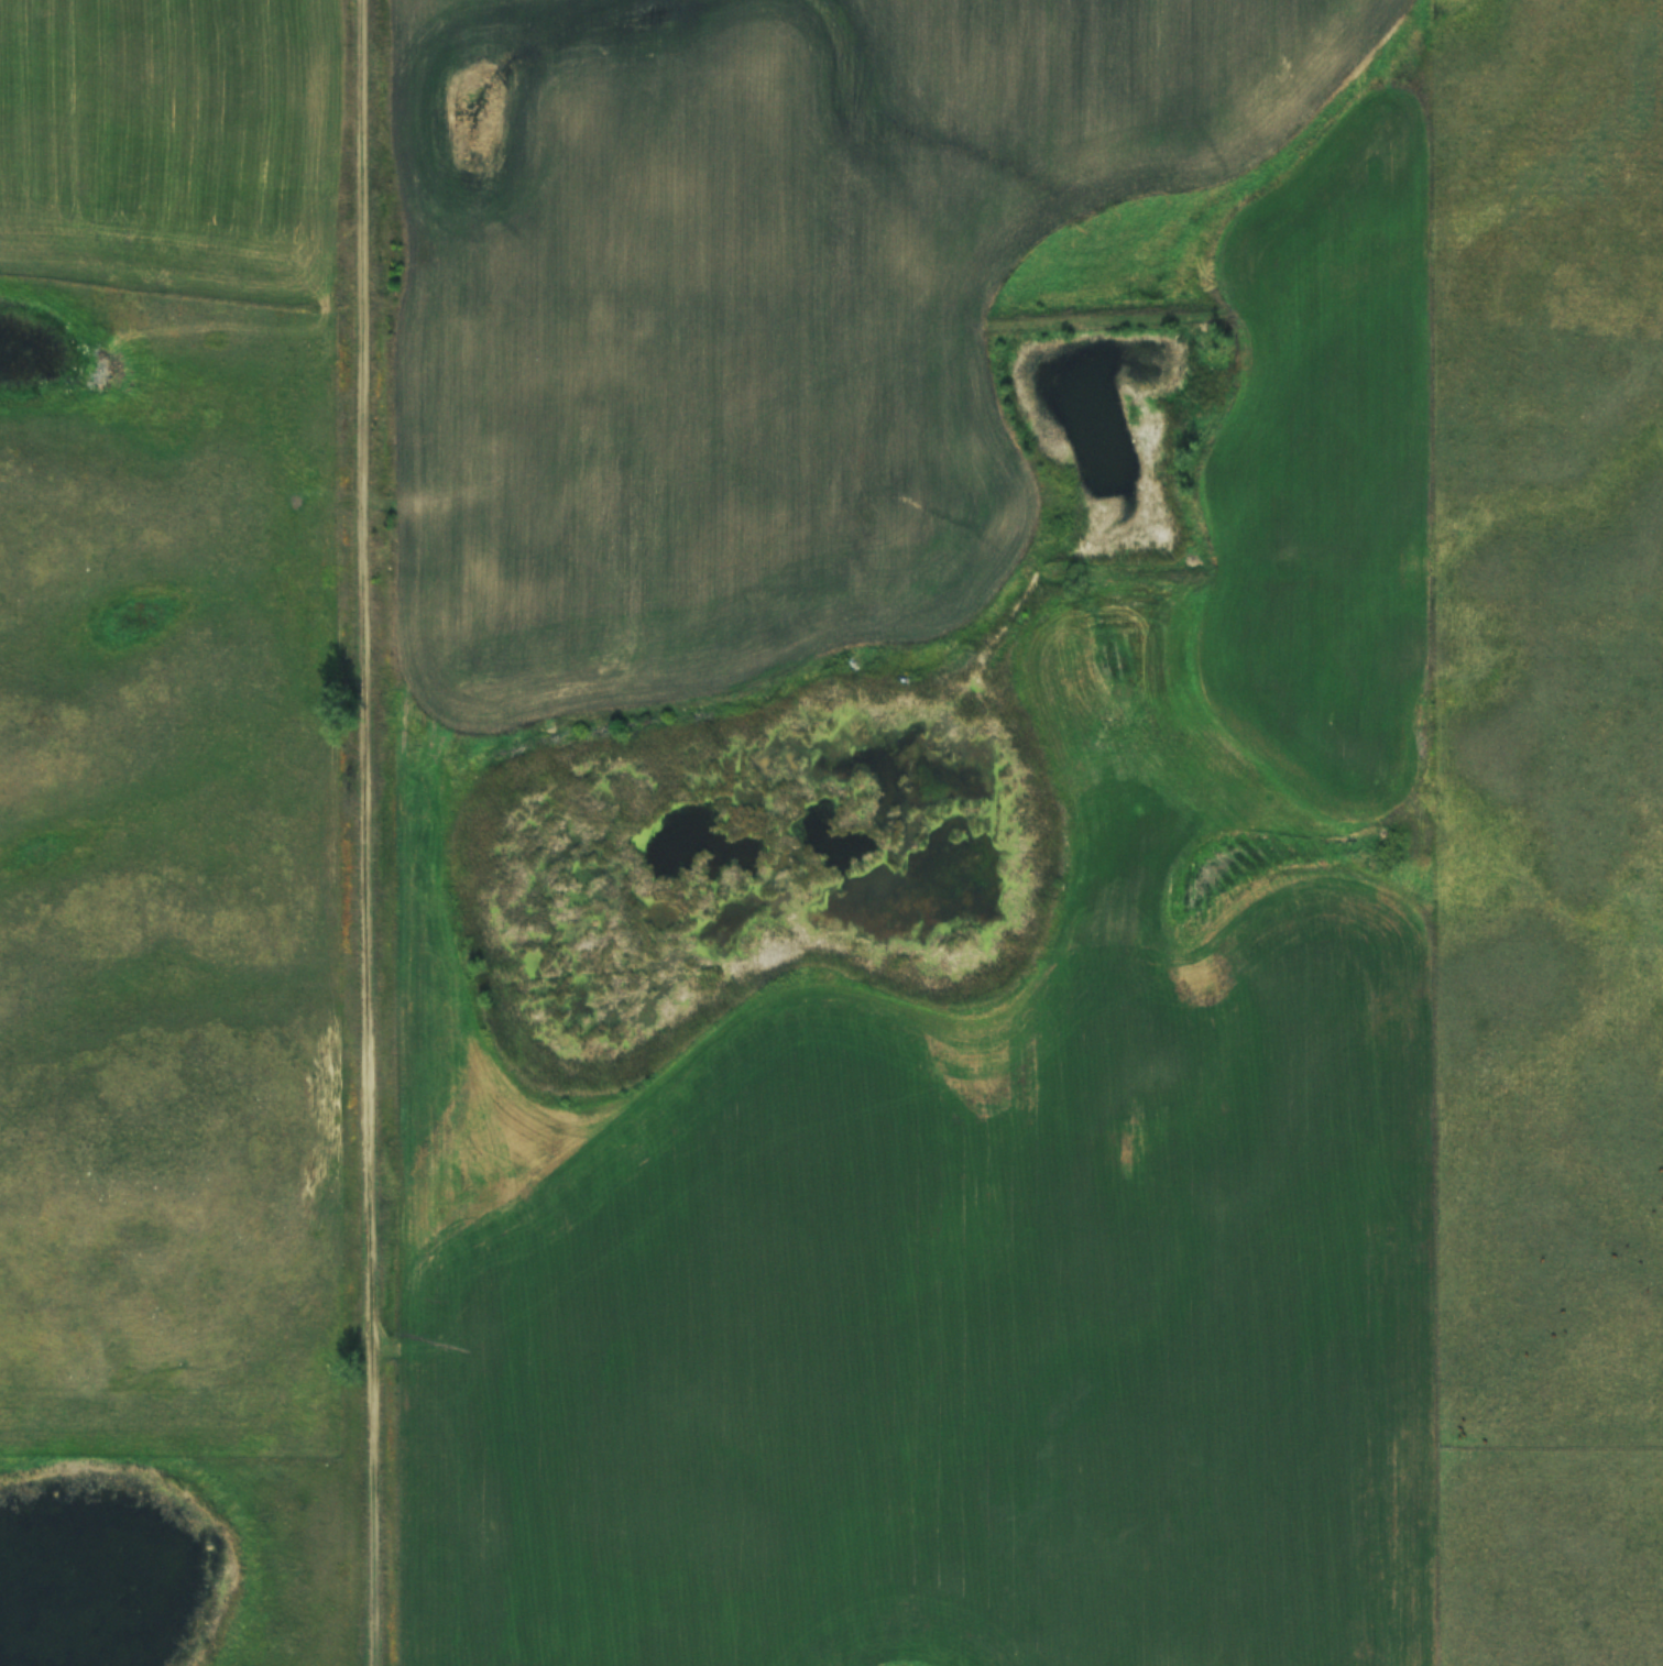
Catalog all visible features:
road: (368, 832)

